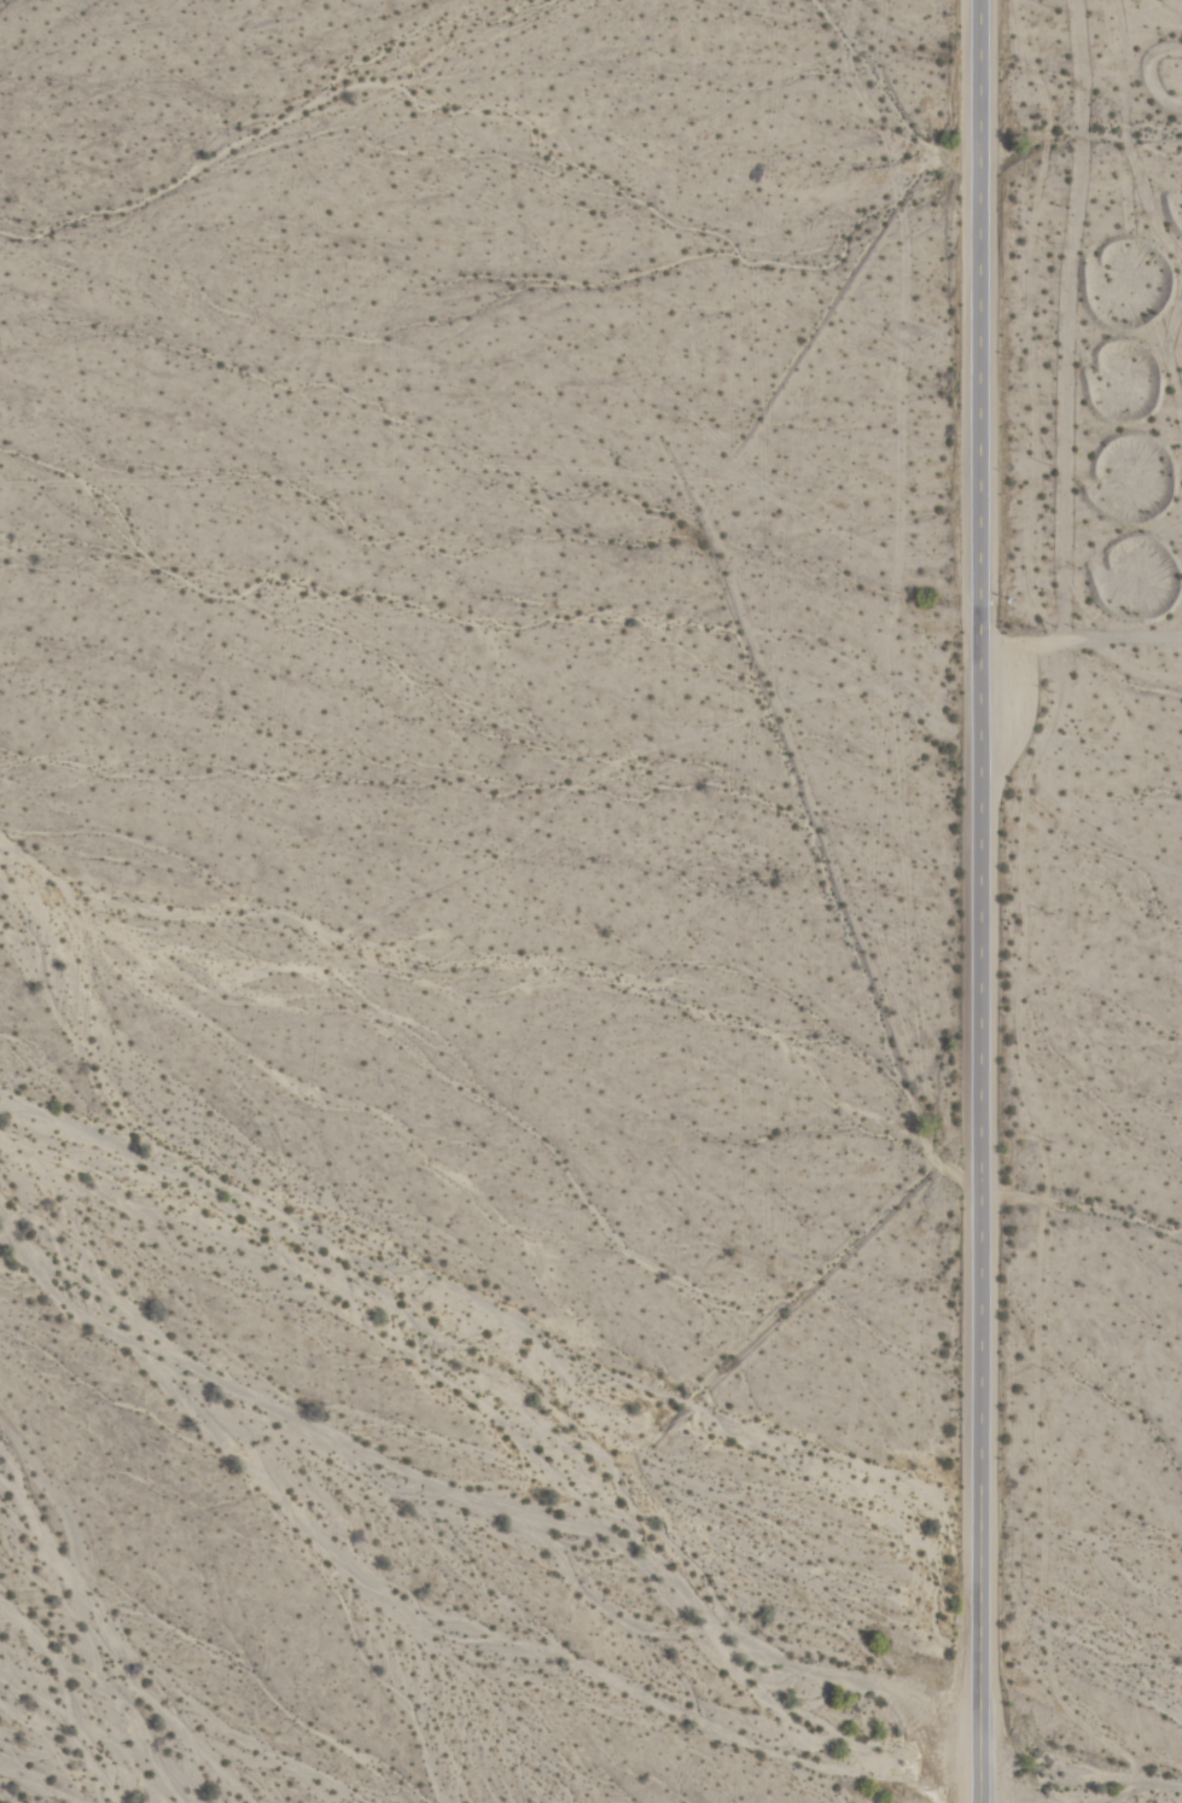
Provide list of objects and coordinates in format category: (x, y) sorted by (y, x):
road: (1085, 630)
road: (989, 901)

